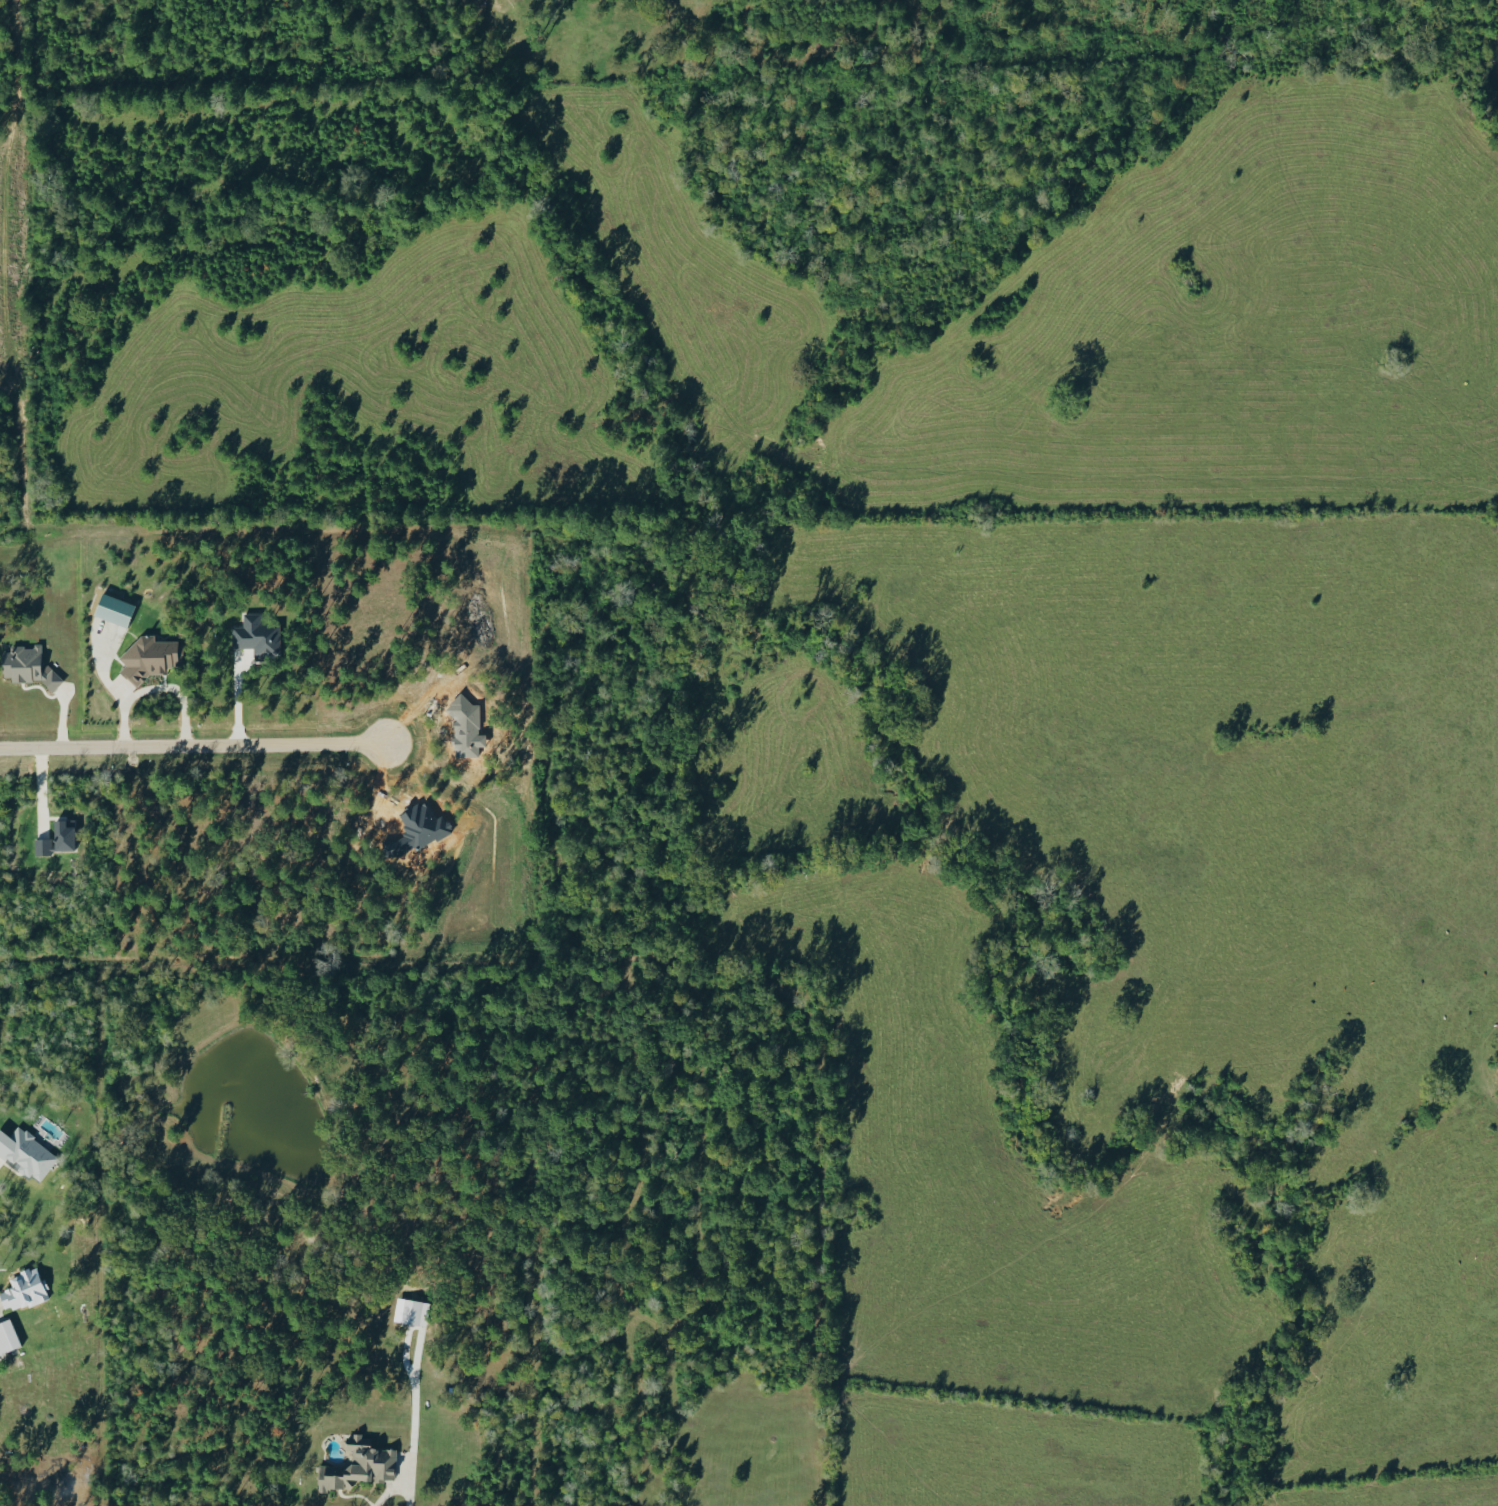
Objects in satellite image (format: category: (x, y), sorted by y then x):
building: (111, 610)
building: (256, 637)
building: (148, 658)
building: (26, 667)
road: (155, 686)
road: (237, 703)
road: (194, 752)
building: (25, 1154)
building: (22, 1289)
building: (413, 1312)
building: (6, 1336)
road: (414, 1418)
building: (355, 1465)

